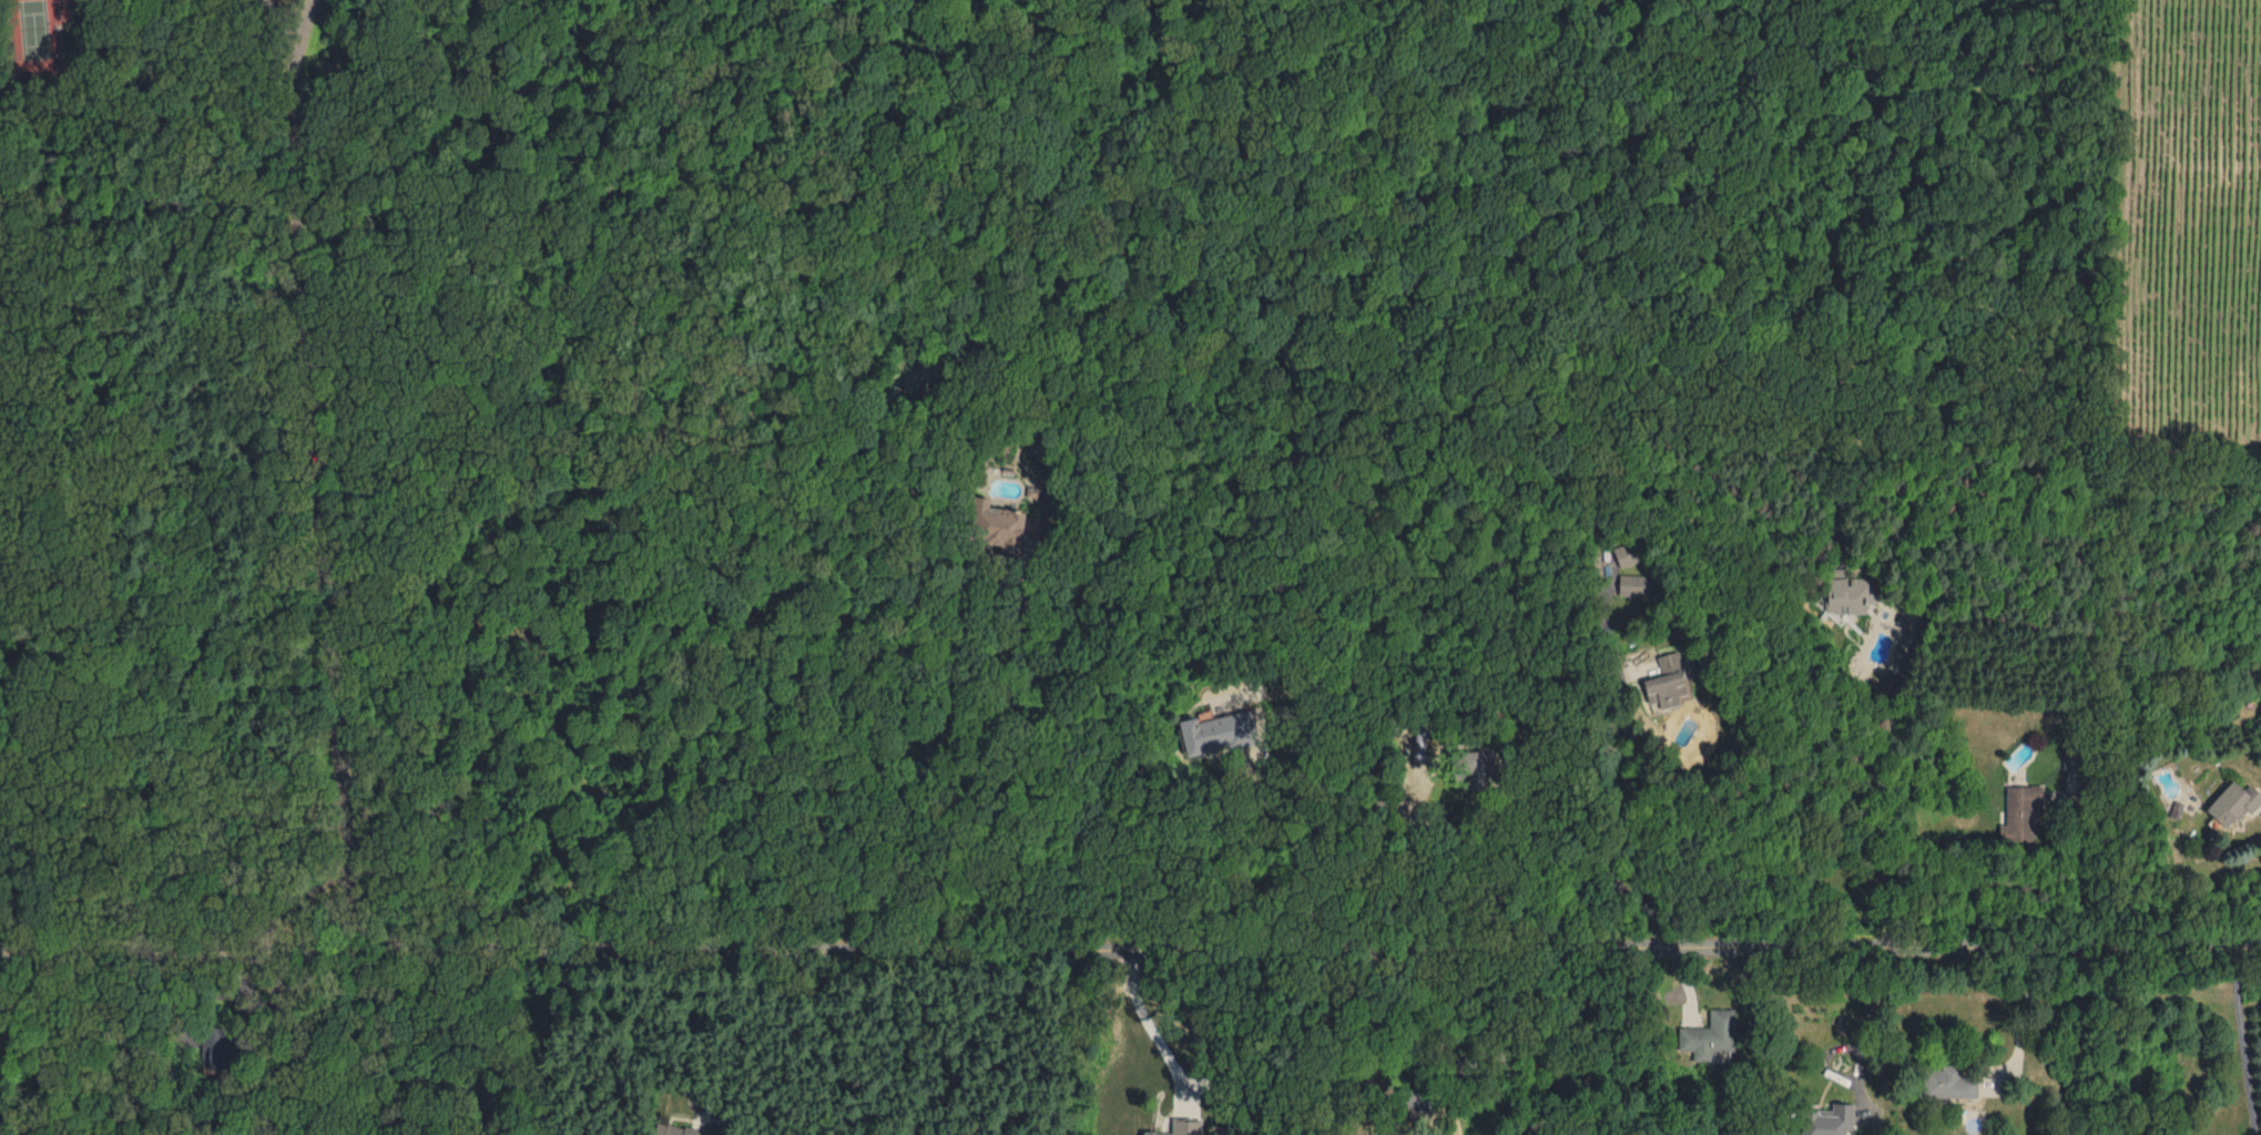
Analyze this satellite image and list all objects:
road: (265, 6)
road: (299, 30)
road: (315, 474)
building: (1001, 525)
building: (1846, 596)
building: (1666, 681)
road: (1892, 681)
building: (1218, 730)
road: (1020, 733)
building: (1471, 767)
road: (1602, 771)
building: (2233, 802)
building: (2020, 812)
road: (1507, 847)
road: (1289, 852)
road: (2081, 862)
road: (951, 891)
road: (1130, 939)
road: (235, 998)
road: (1138, 1011)
road: (2016, 1020)
road: (1864, 1022)
road: (688, 1029)
building: (1708, 1033)
road: (1432, 1034)
road: (1010, 1036)
road: (2238, 1041)
road: (524, 1044)
building: (1946, 1083)
building: (1830, 1119)
building: (1181, 1127)
building: (674, 1129)

